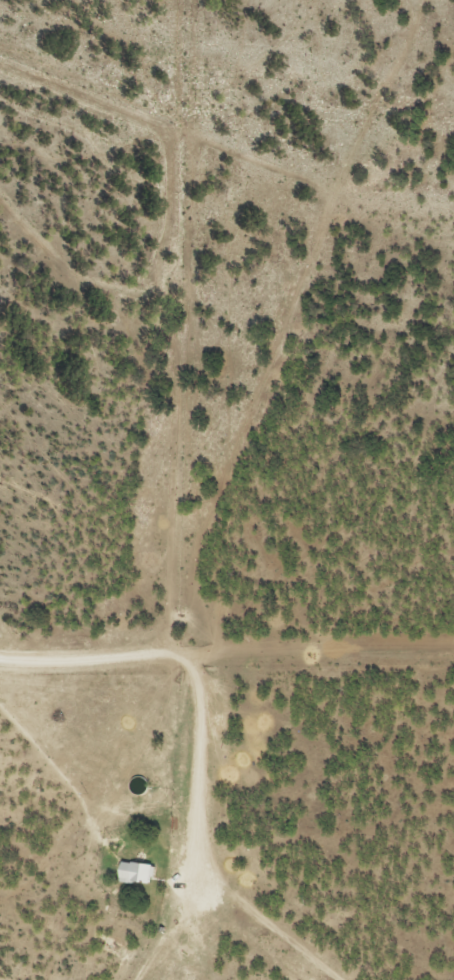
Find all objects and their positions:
road: (165, 792)
building: (138, 872)

